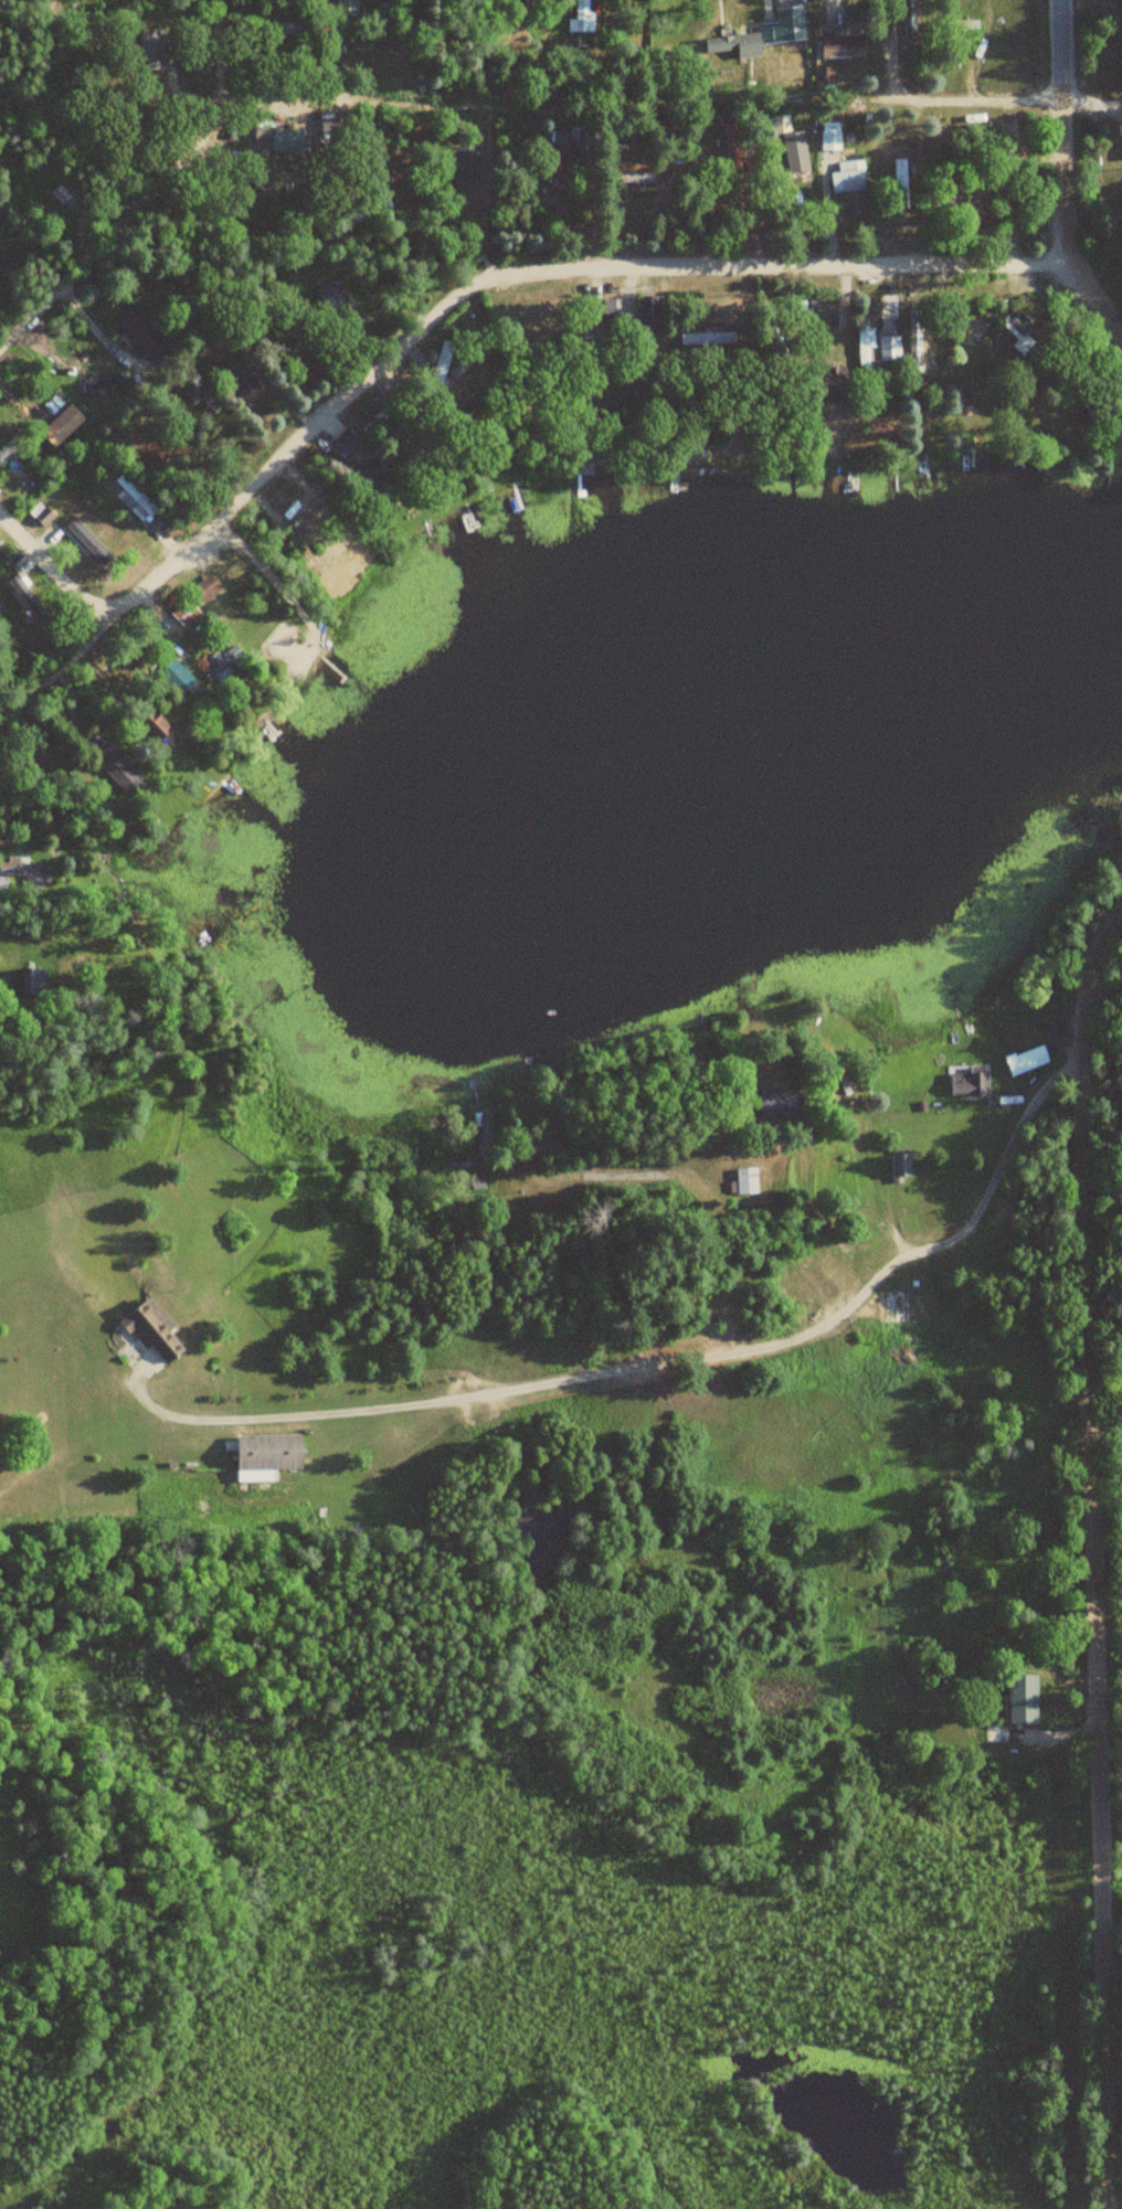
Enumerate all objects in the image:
building: (347, 7)
building: (533, 7)
building: (582, 17)
building: (909, 17)
building: (282, 28)
building: (771, 32)
building: (735, 44)
building: (844, 46)
building: (149, 50)
building: (830, 136)
building: (282, 139)
building: (790, 145)
building: (559, 158)
building: (733, 158)
building: (467, 161)
road: (1063, 174)
building: (848, 177)
building: (631, 178)
building: (900, 183)
road: (151, 190)
building: (370, 210)
road: (477, 285)
building: (345, 305)
building: (649, 310)
building: (963, 326)
building: (142, 336)
building: (1022, 337)
building: (708, 338)
building: (594, 341)
building: (914, 343)
building: (864, 344)
building: (293, 347)
building: (776, 349)
building: (889, 349)
building: (441, 365)
building: (239, 379)
building: (829, 384)
building: (104, 387)
building: (1103, 410)
building: (65, 424)
building: (378, 424)
building: (343, 447)
building: (369, 476)
building: (135, 500)
building: (44, 517)
road: (51, 567)
building: (204, 590)
building: (182, 614)
building: (219, 665)
building: (173, 678)
building: (151, 726)
building: (118, 772)
building: (24, 870)
building: (3, 884)
building: (33, 979)
building: (1054, 1028)
building: (970, 1081)
building: (777, 1101)
building: (486, 1128)
building: (542, 1146)
building: (901, 1167)
building: (747, 1179)
road: (835, 1320)
building: (156, 1330)
building: (267, 1453)
road: (1091, 1552)
building: (1023, 1699)

